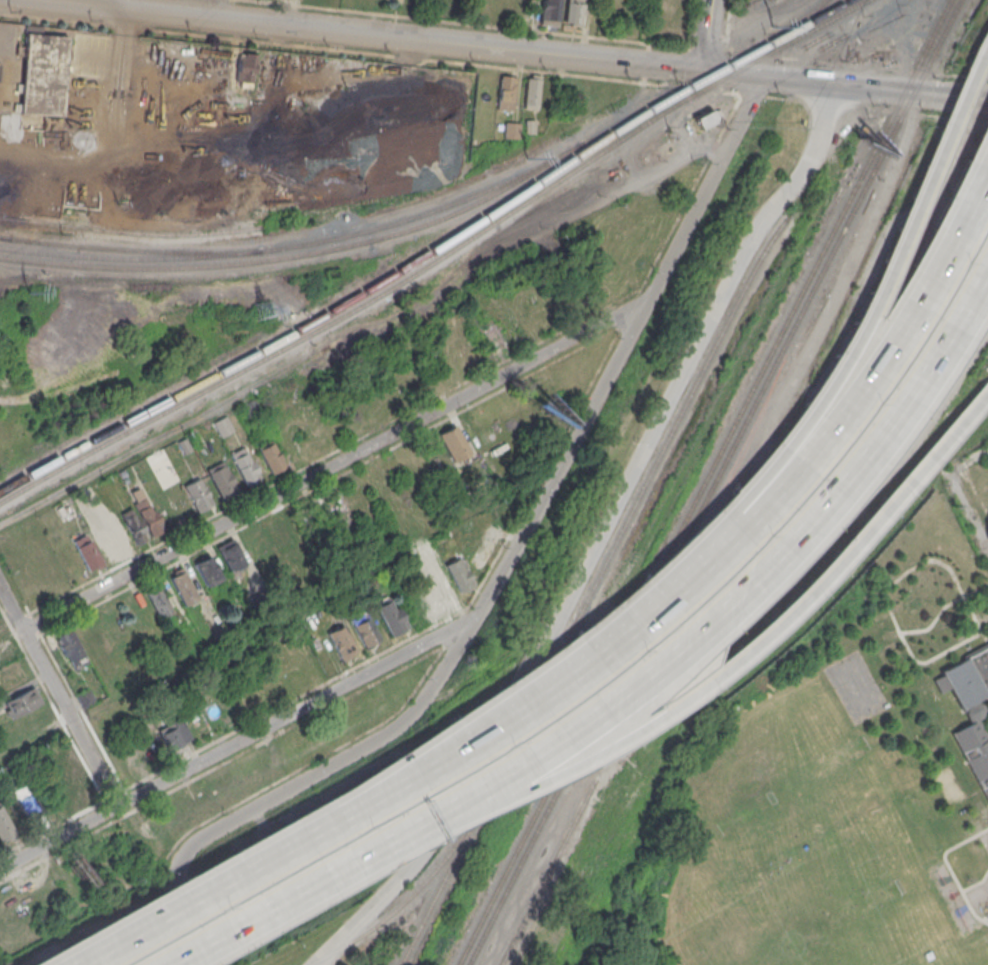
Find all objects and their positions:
building: (398, 0)
railway: (845, 0)
road: (185, 6)
building: (549, 10)
building: (573, 11)
road: (123, 22)
railway: (804, 23)
railway: (794, 25)
power tower: (774, 26)
road: (706, 35)
railway: (798, 37)
road: (519, 50)
building: (245, 69)
building: (41, 73)
building: (531, 91)
building: (506, 94)
road: (857, 105)
road: (913, 113)
building: (705, 119)
road: (964, 119)
building: (529, 127)
railway: (702, 127)
road: (93, 129)
building: (510, 129)
power tower: (529, 157)
railway: (129, 232)
railway: (345, 236)
railway: (5, 237)
railway: (134, 250)
railway: (302, 254)
railway: (386, 277)
power tower: (25, 292)
railway: (371, 299)
power tower: (262, 313)
building: (492, 338)
railway: (683, 407)
building: (249, 408)
building: (223, 425)
building: (454, 443)
road: (147, 445)
building: (184, 445)
building: (271, 456)
road: (779, 459)
road: (968, 462)
road: (336, 464)
building: (245, 465)
building: (222, 479)
building: (486, 481)
railway: (703, 482)
railway: (713, 482)
building: (198, 494)
building: (328, 505)
building: (64, 510)
road: (968, 510)
building: (147, 511)
building: (134, 524)
road: (763, 524)
road: (598, 539)
building: (87, 551)
road: (783, 553)
building: (231, 556)
road: (503, 568)
building: (207, 570)
building: (458, 575)
building: (183, 587)
building: (438, 590)
road: (884, 598)
building: (159, 600)
building: (330, 601)
road: (969, 606)
building: (242, 615)
building: (391, 616)
road: (776, 620)
building: (230, 625)
building: (364, 629)
building: (341, 642)
building: (72, 648)
building: (6, 654)
road: (936, 656)
building: (160, 689)
park: (855, 689)
road: (58, 695)
building: (86, 698)
building: (22, 702)
building: (970, 709)
building: (173, 734)
road: (36, 740)
road: (238, 741)
building: (4, 773)
railway: (491, 785)
park: (844, 789)
road: (471, 798)
building: (28, 801)
building: (5, 827)
road: (250, 867)
road: (950, 868)
park: (793, 869)
road: (976, 882)
railway: (542, 883)
road: (310, 896)
railway: (404, 900)
park: (966, 954)

